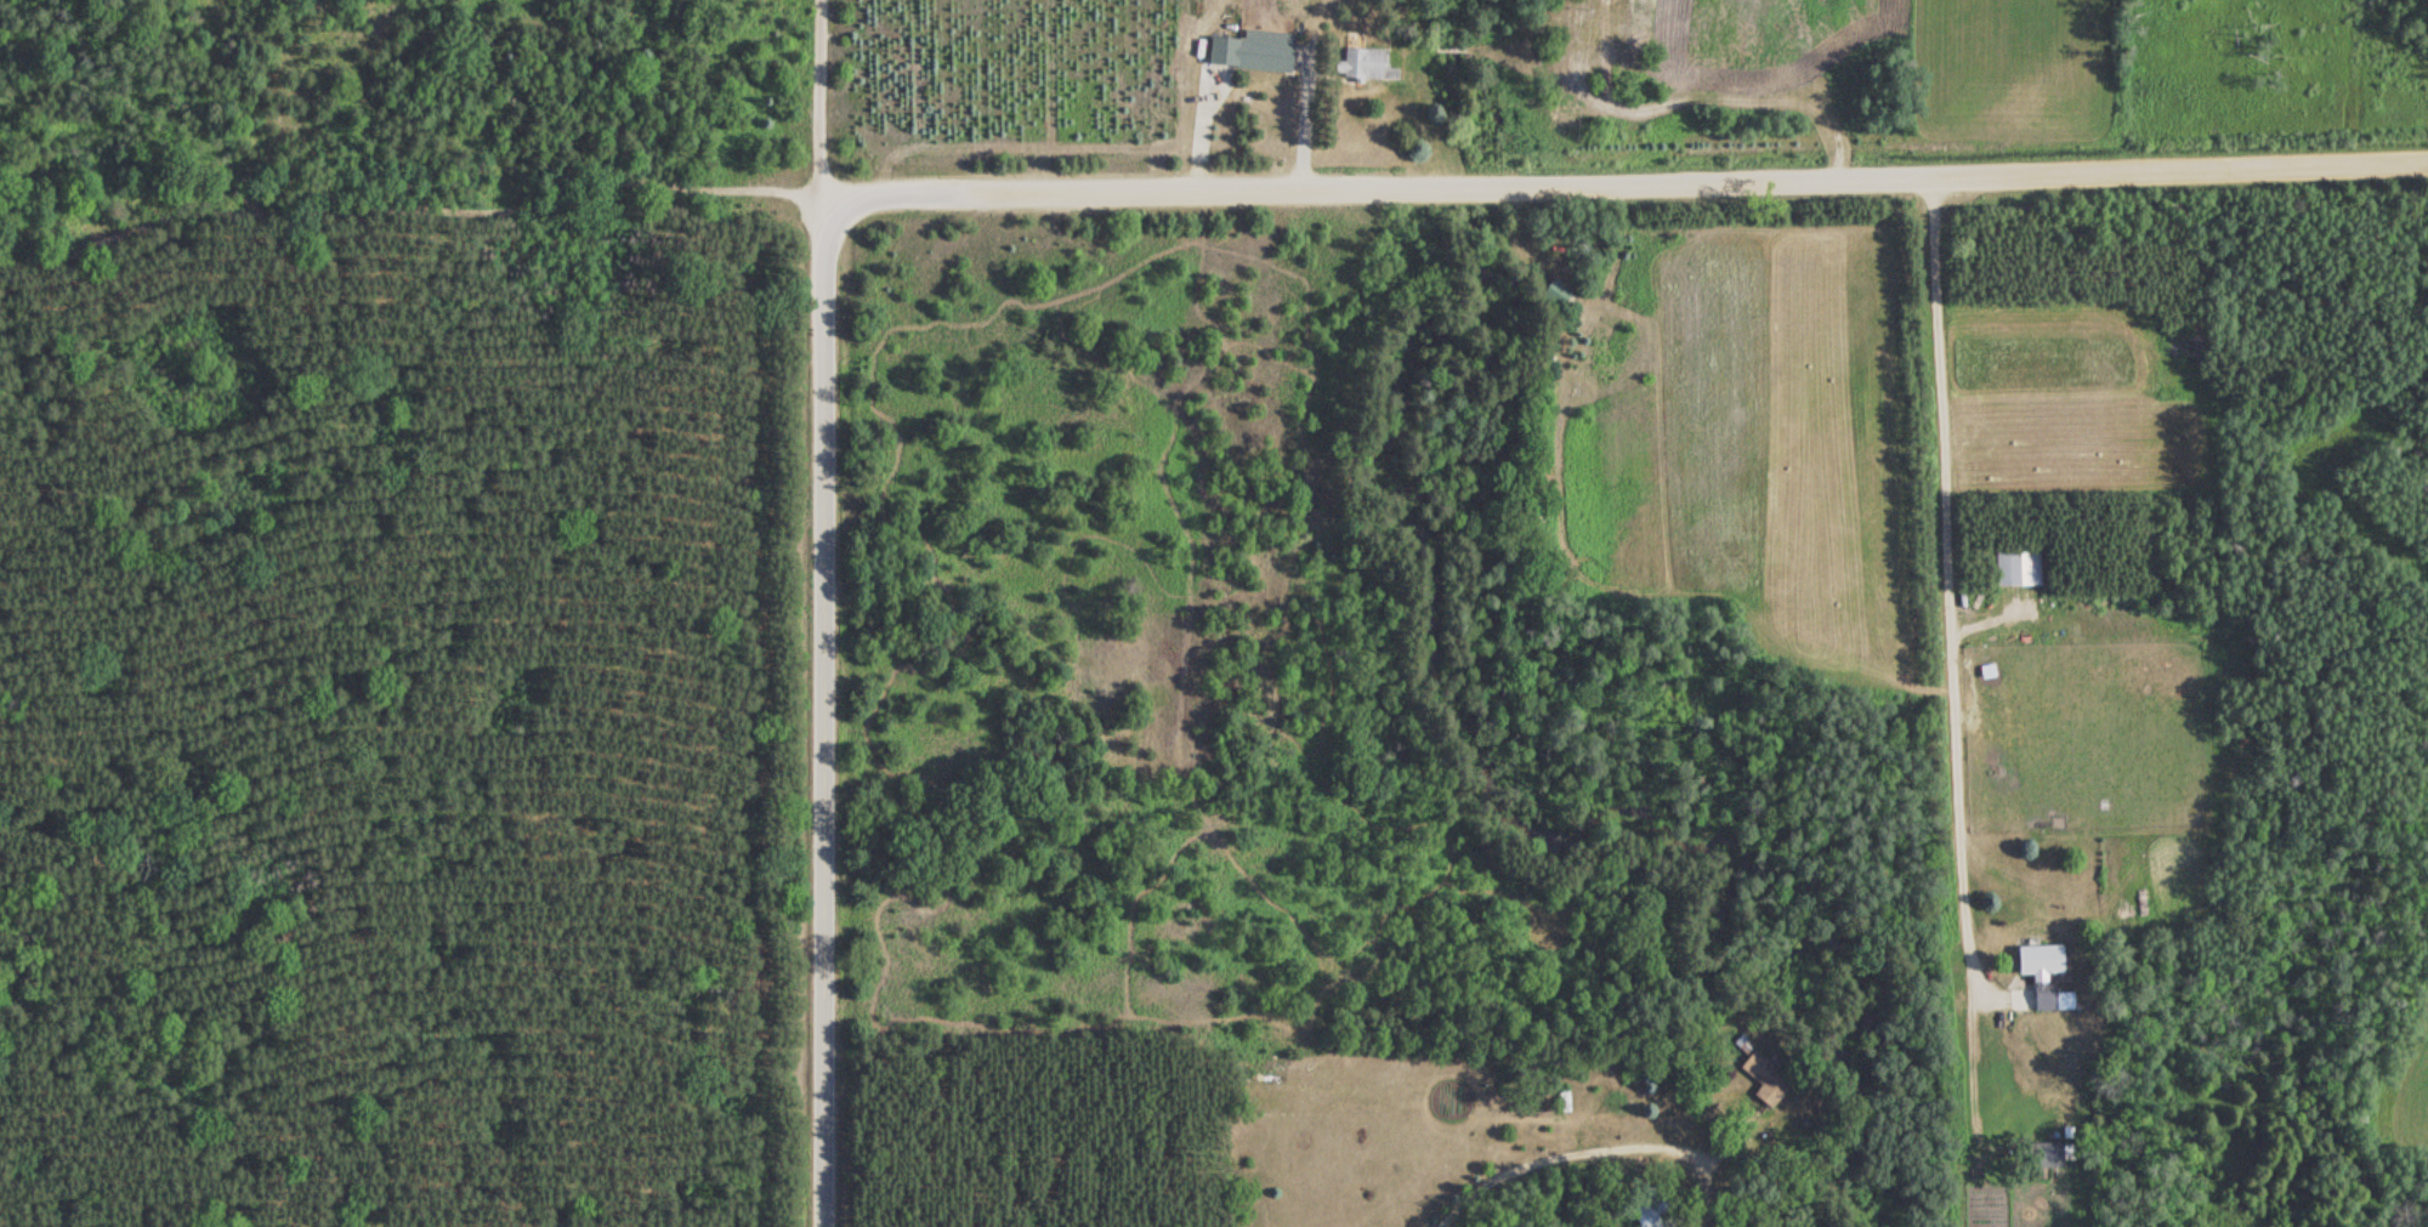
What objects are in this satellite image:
building: (1250, 51)
building: (1358, 59)
road: (817, 97)
road: (1624, 182)
road: (410, 183)
building: (2014, 567)
road: (815, 711)
road: (1114, 925)
building: (2038, 978)
building: (1764, 1079)
building: (2048, 1154)
building: (1649, 1206)

